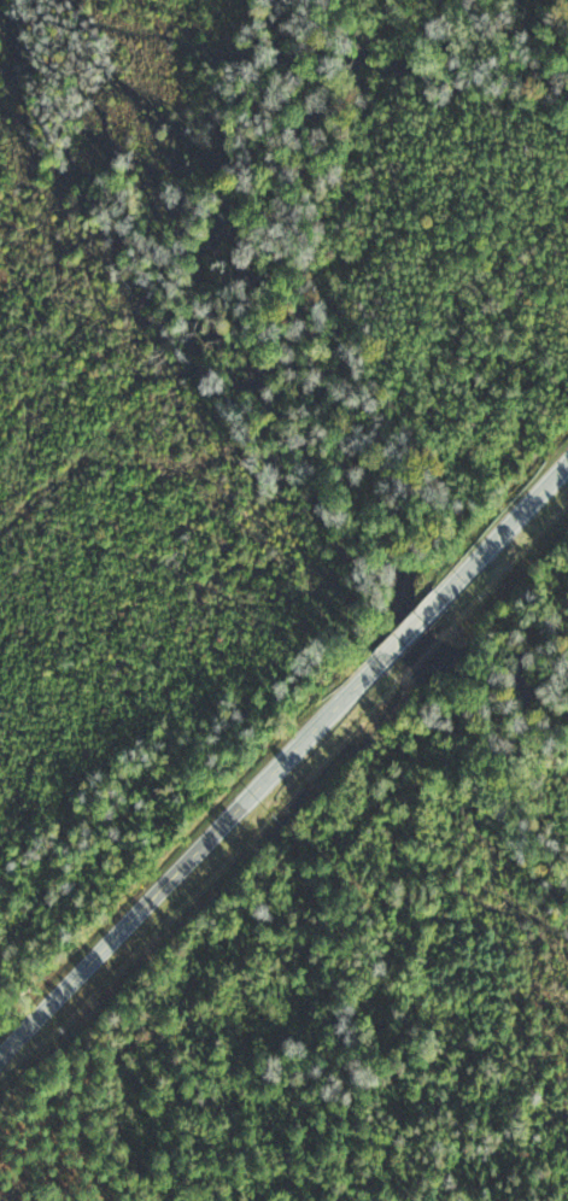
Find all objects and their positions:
road: (504, 529)
road: (415, 626)
road: (194, 856)

